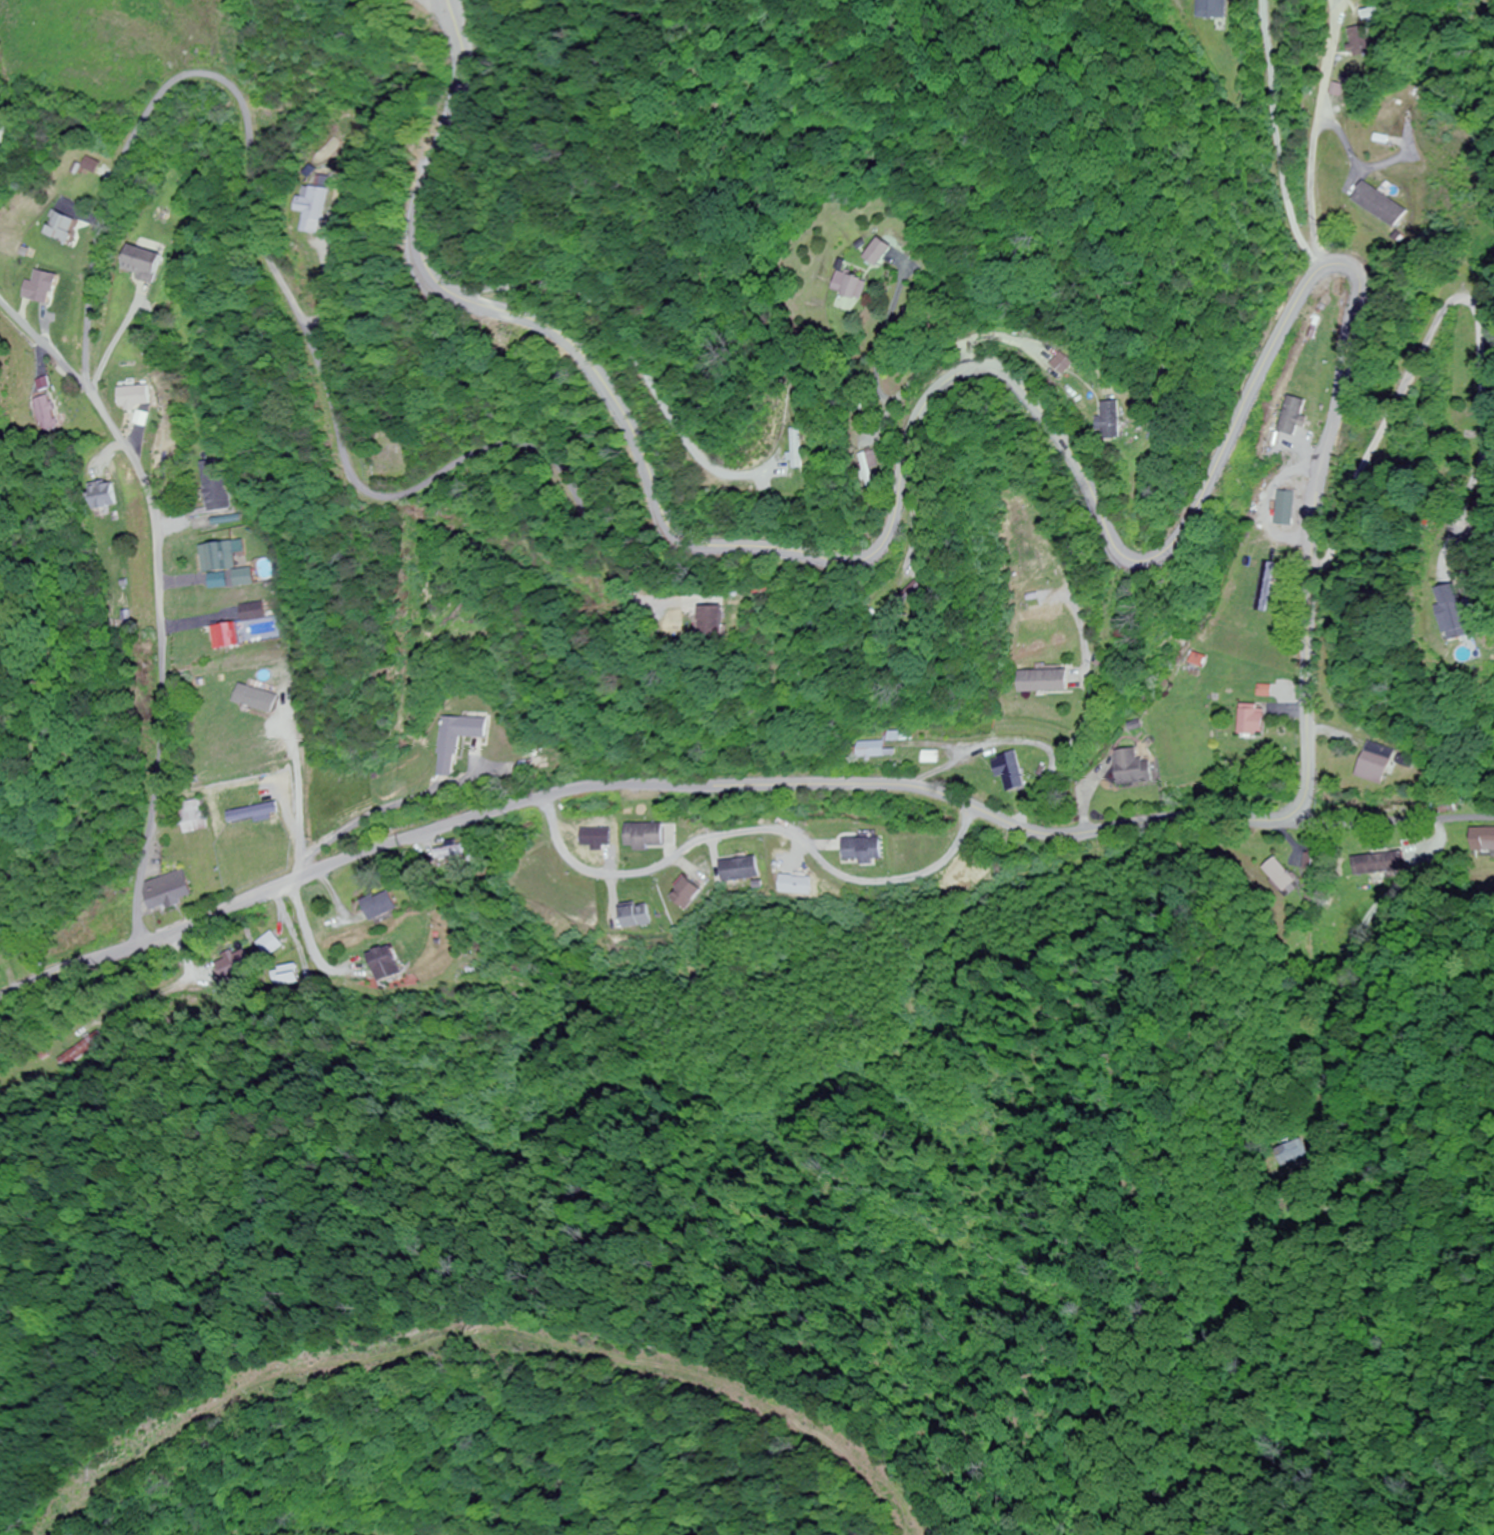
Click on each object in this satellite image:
building: (1213, 8)
building: (1362, 33)
building: (1399, 116)
road: (4, 141)
building: (1379, 204)
building: (319, 205)
building: (59, 227)
building: (879, 252)
building: (139, 263)
road: (295, 283)
building: (851, 286)
building: (38, 288)
road: (1342, 348)
building: (1473, 367)
building: (133, 397)
building: (44, 414)
building: (1112, 420)
building: (799, 448)
building: (870, 468)
building: (208, 486)
building: (103, 496)
building: (1282, 509)
building: (214, 556)
building: (235, 578)
road: (151, 597)
building: (245, 612)
building: (710, 619)
building: (1461, 619)
building: (222, 636)
building: (1041, 681)
building: (1263, 693)
building: (1251, 719)
building: (455, 740)
building: (871, 749)
building: (237, 757)
building: (1373, 762)
building: (1131, 768)
building: (1010, 771)
road: (1395, 814)
building: (192, 816)
road: (748, 834)
building: (644, 836)
building: (1482, 839)
building: (862, 850)
building: (1314, 863)
building: (1378, 864)
building: (739, 870)
building: (1281, 877)
building: (167, 891)
building: (378, 906)
building: (633, 917)
building: (268, 944)
building: (383, 964)
building: (232, 965)
building: (286, 976)
building: (81, 1050)
building: (1291, 1151)

